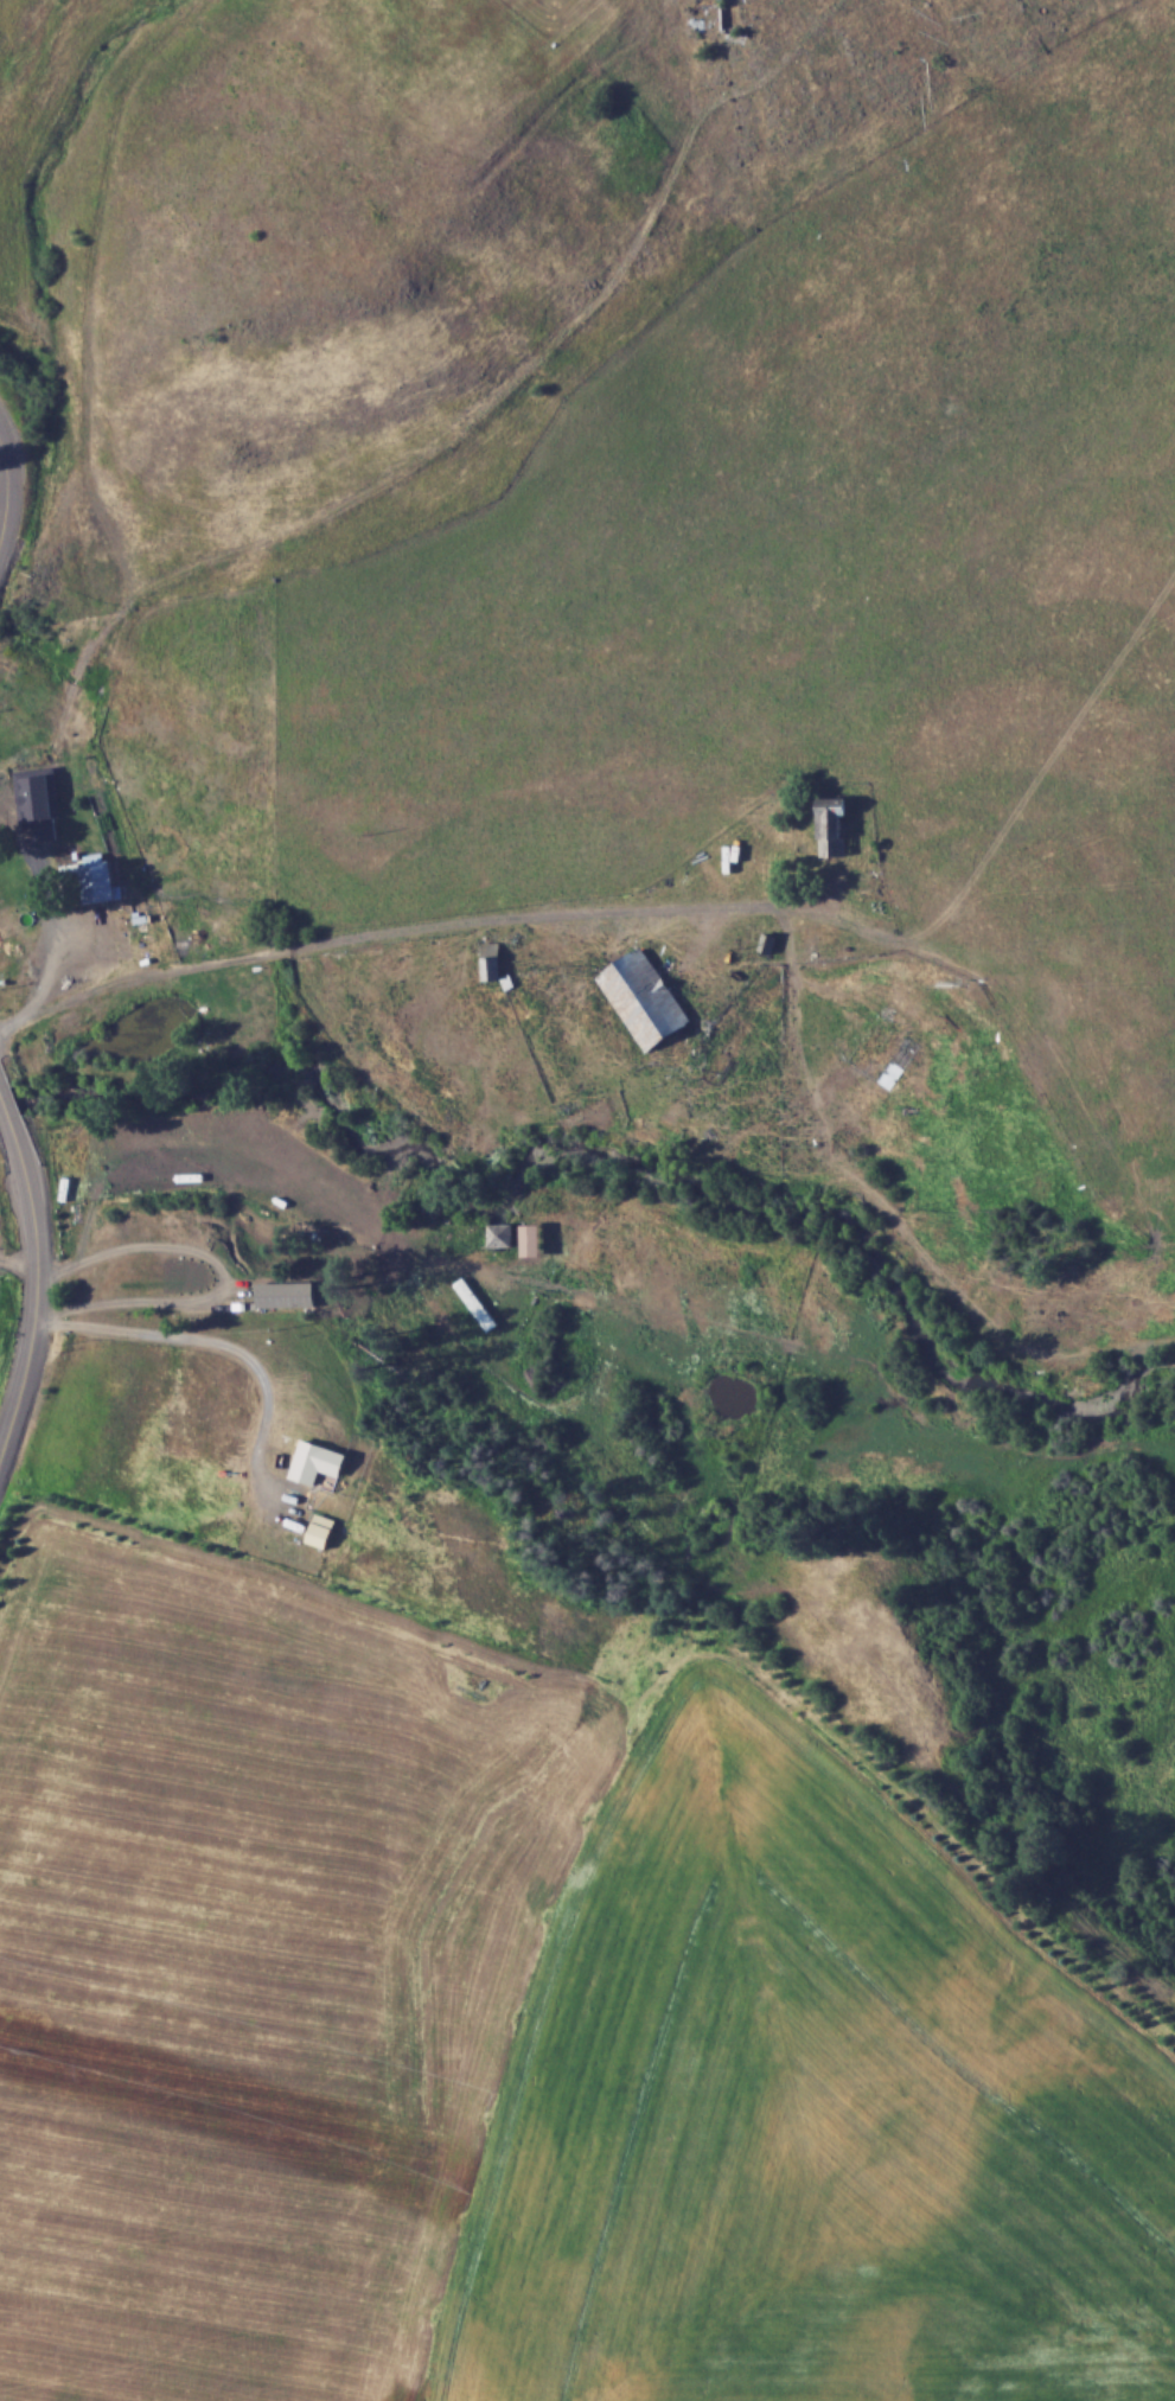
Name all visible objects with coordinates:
road: (9, 487)
building: (7, 817)
building: (834, 828)
building: (92, 879)
road: (410, 925)
building: (493, 965)
road: (47, 975)
building: (645, 997)
building: (898, 1062)
road: (5, 1103)
building: (503, 1234)
building: (534, 1238)
road: (222, 1271)
road: (39, 1289)
building: (287, 1294)
building: (477, 1303)
road: (210, 1337)
building: (318, 1461)
building: (323, 1530)

